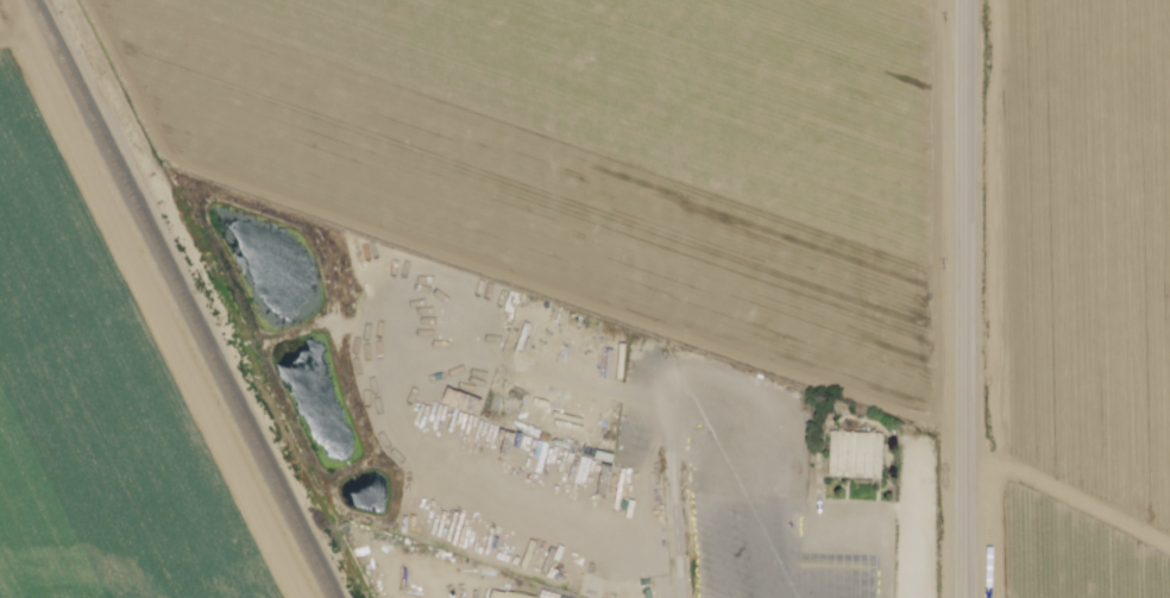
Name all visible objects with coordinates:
road: (951, 4)
crop: (1105, 26)
crop: (597, 144)
crop: (1086, 162)
crop: (45, 227)
railway: (182, 298)
road: (963, 298)
crop: (1087, 389)
building: (857, 454)
crop: (107, 470)
parking lot: (919, 521)
road: (920, 528)
crop: (1075, 552)
road: (765, 553)
parking lot: (773, 555)
crop: (240, 583)
building: (505, 594)

